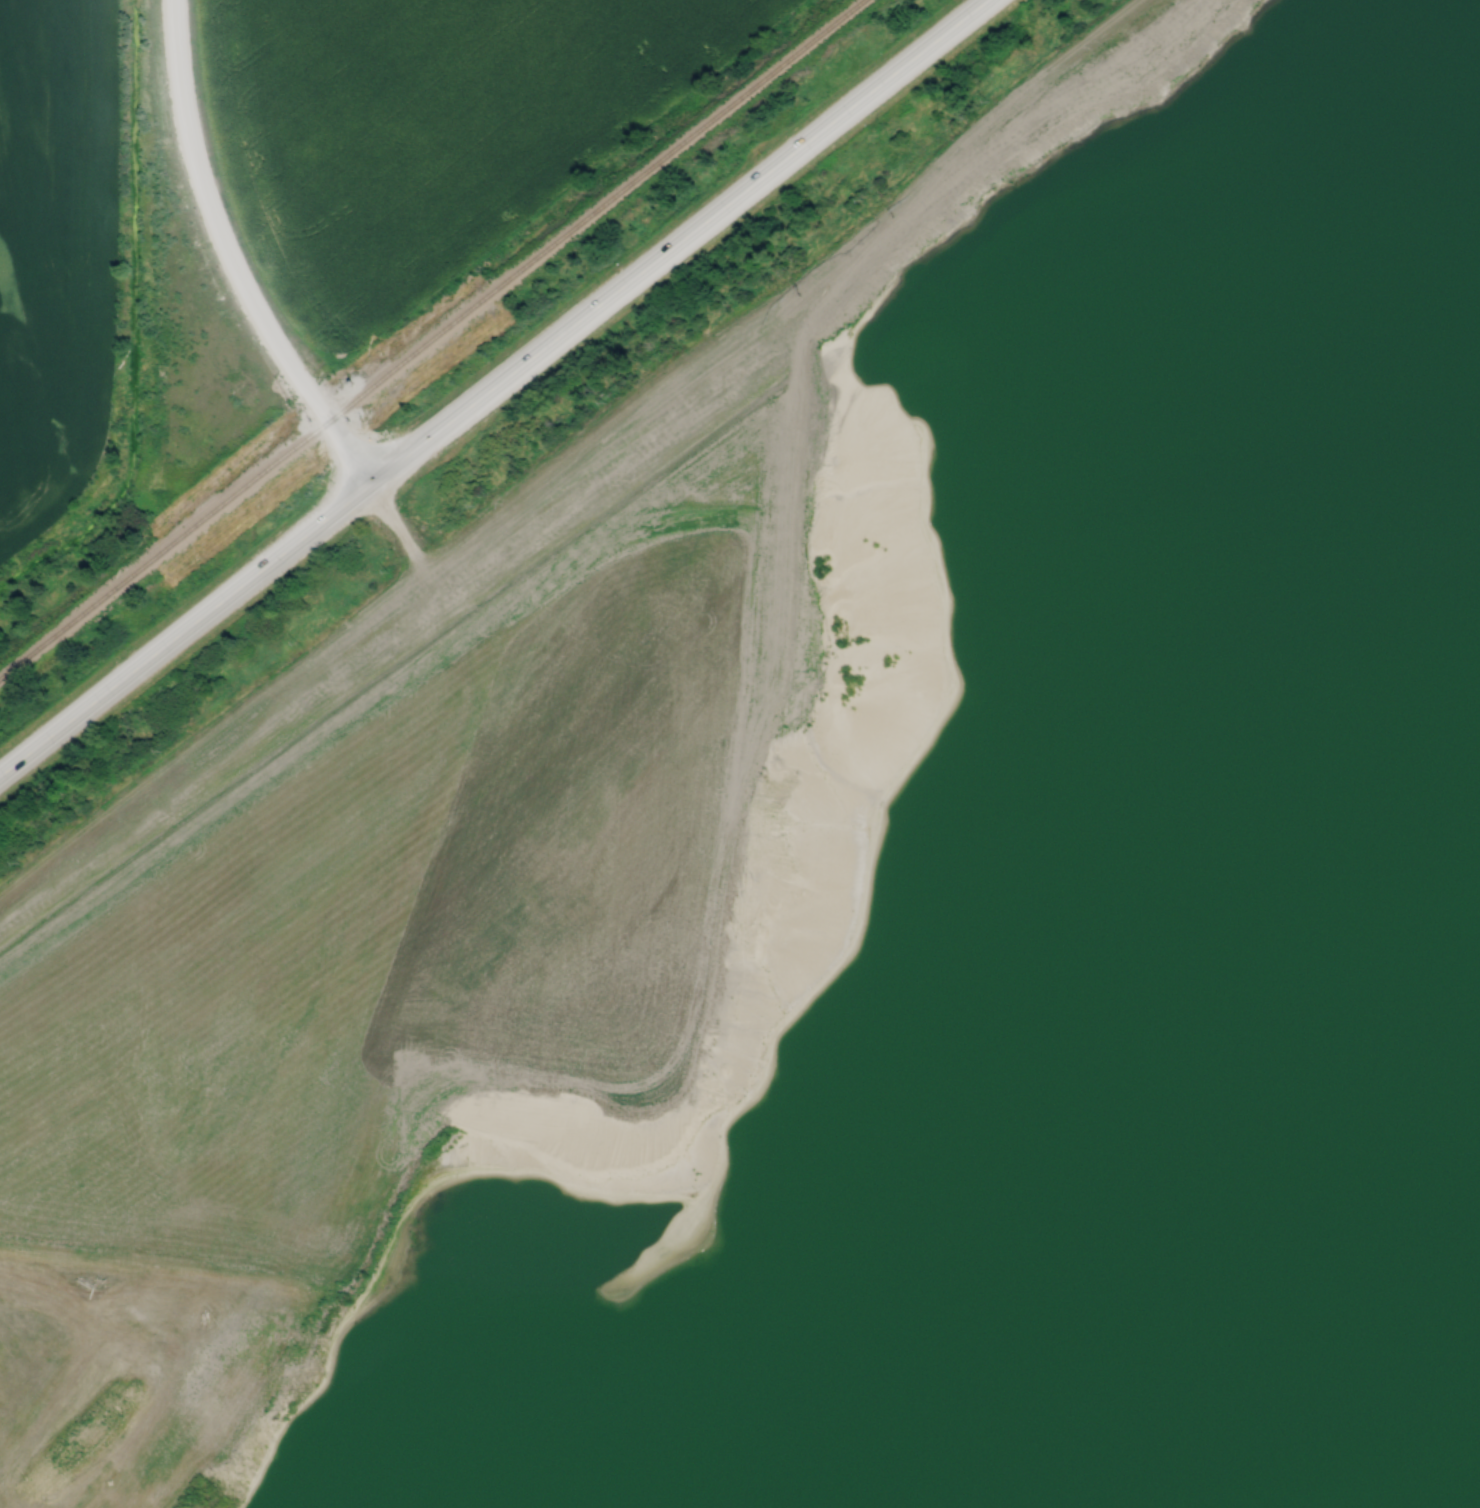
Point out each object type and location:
road: (229, 257)
railway: (433, 341)
road: (492, 386)

